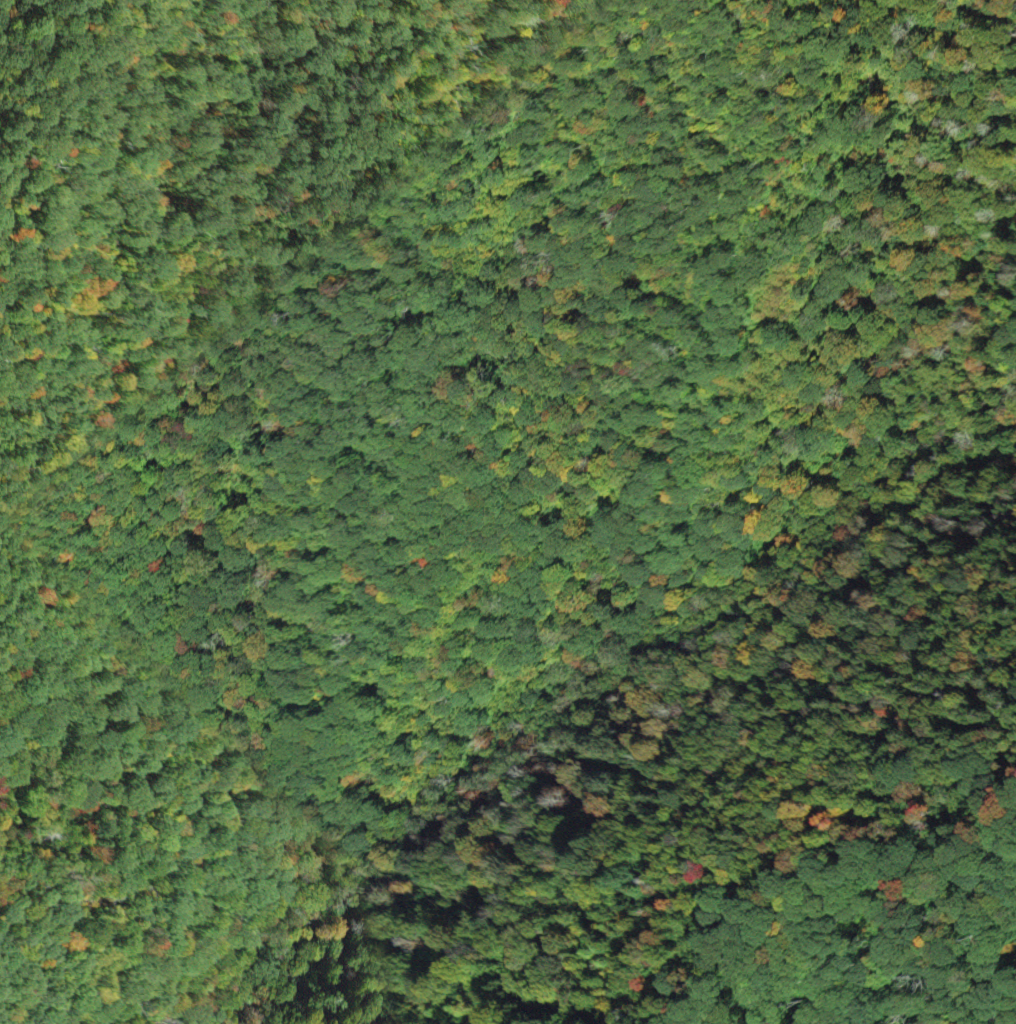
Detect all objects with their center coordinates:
road: (763, 426)

